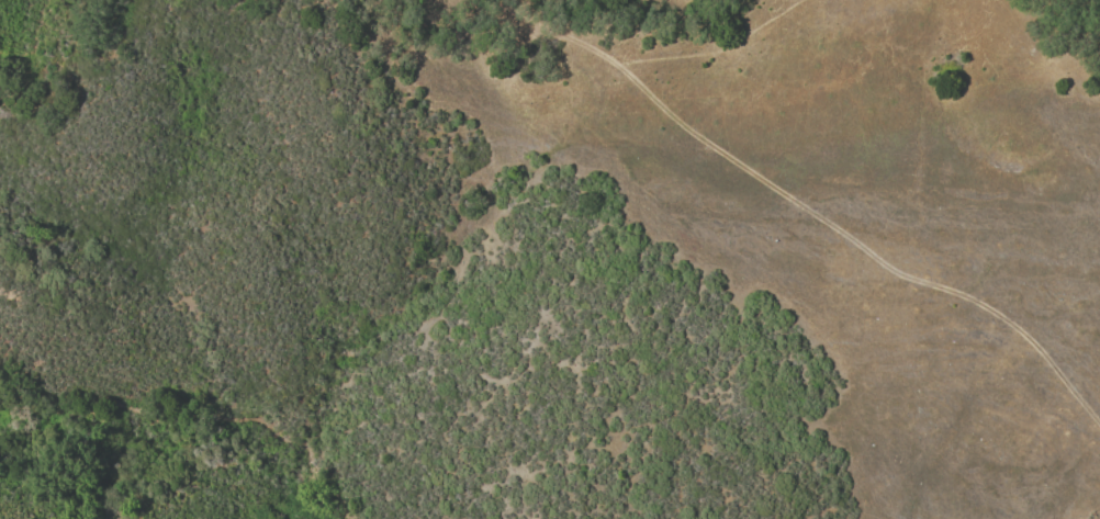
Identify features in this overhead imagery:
road: (569, 20)
road: (712, 48)
road: (798, 204)

